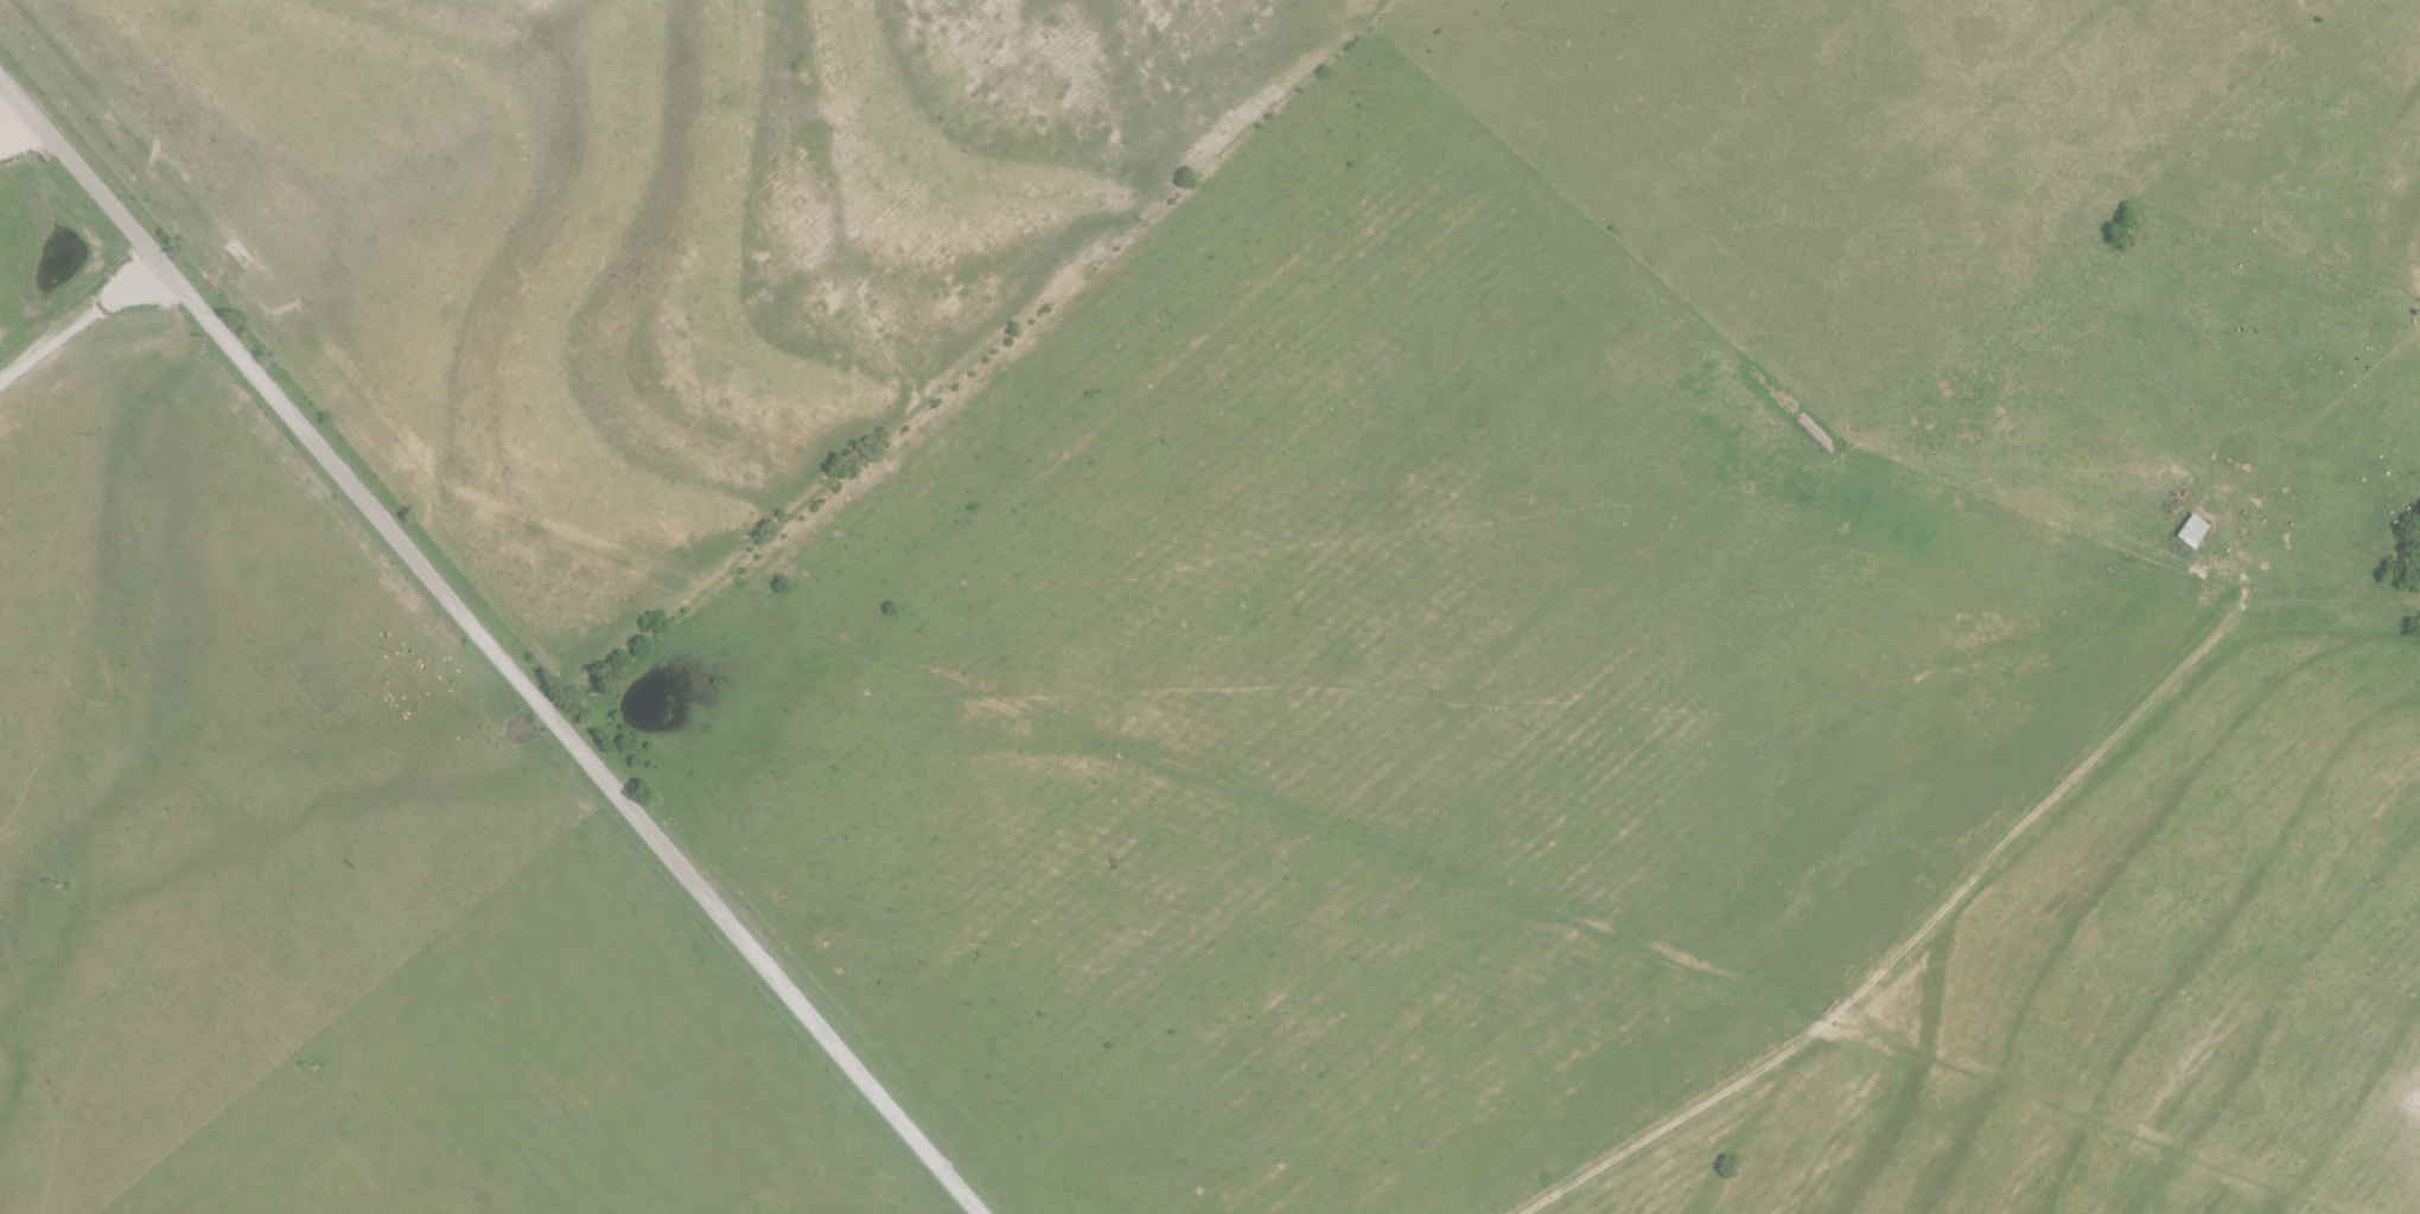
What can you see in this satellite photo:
road: (12, 127)
road: (83, 321)
building: (2193, 533)
road: (496, 646)
power tower: (71, 886)
power tower: (326, 1067)

